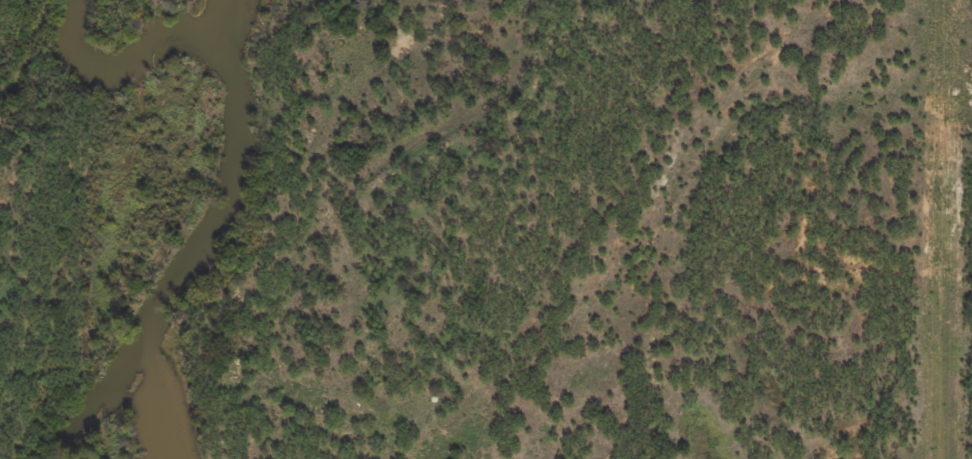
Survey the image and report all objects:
power tower: (942, 211)

